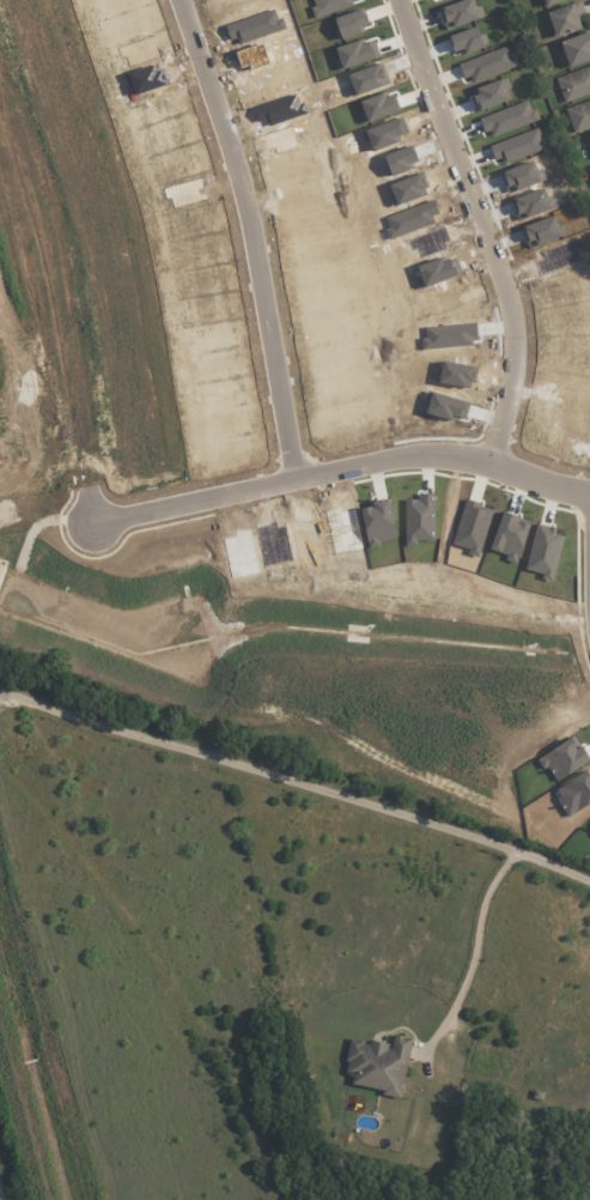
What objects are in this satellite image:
building: (549, 1)
building: (329, 6)
building: (458, 13)
building: (566, 18)
building: (351, 23)
building: (466, 40)
building: (577, 49)
building: (355, 53)
building: (487, 63)
building: (367, 79)
building: (573, 84)
building: (488, 95)
building: (378, 105)
building: (579, 116)
building: (507, 117)
building: (385, 133)
building: (518, 145)
building: (400, 160)
building: (589, 170)
building: (521, 176)
building: (408, 189)
building: (530, 204)
building: (410, 218)
road: (482, 230)
building: (541, 231)
road: (250, 235)
building: (430, 241)
building: (558, 256)
building: (437, 271)
building: (560, 289)
building: (452, 298)
road: (56, 317)
building: (567, 319)
building: (449, 335)
road: (342, 468)
building: (543, 551)
road: (296, 782)
road: (474, 947)
building: (378, 1065)

